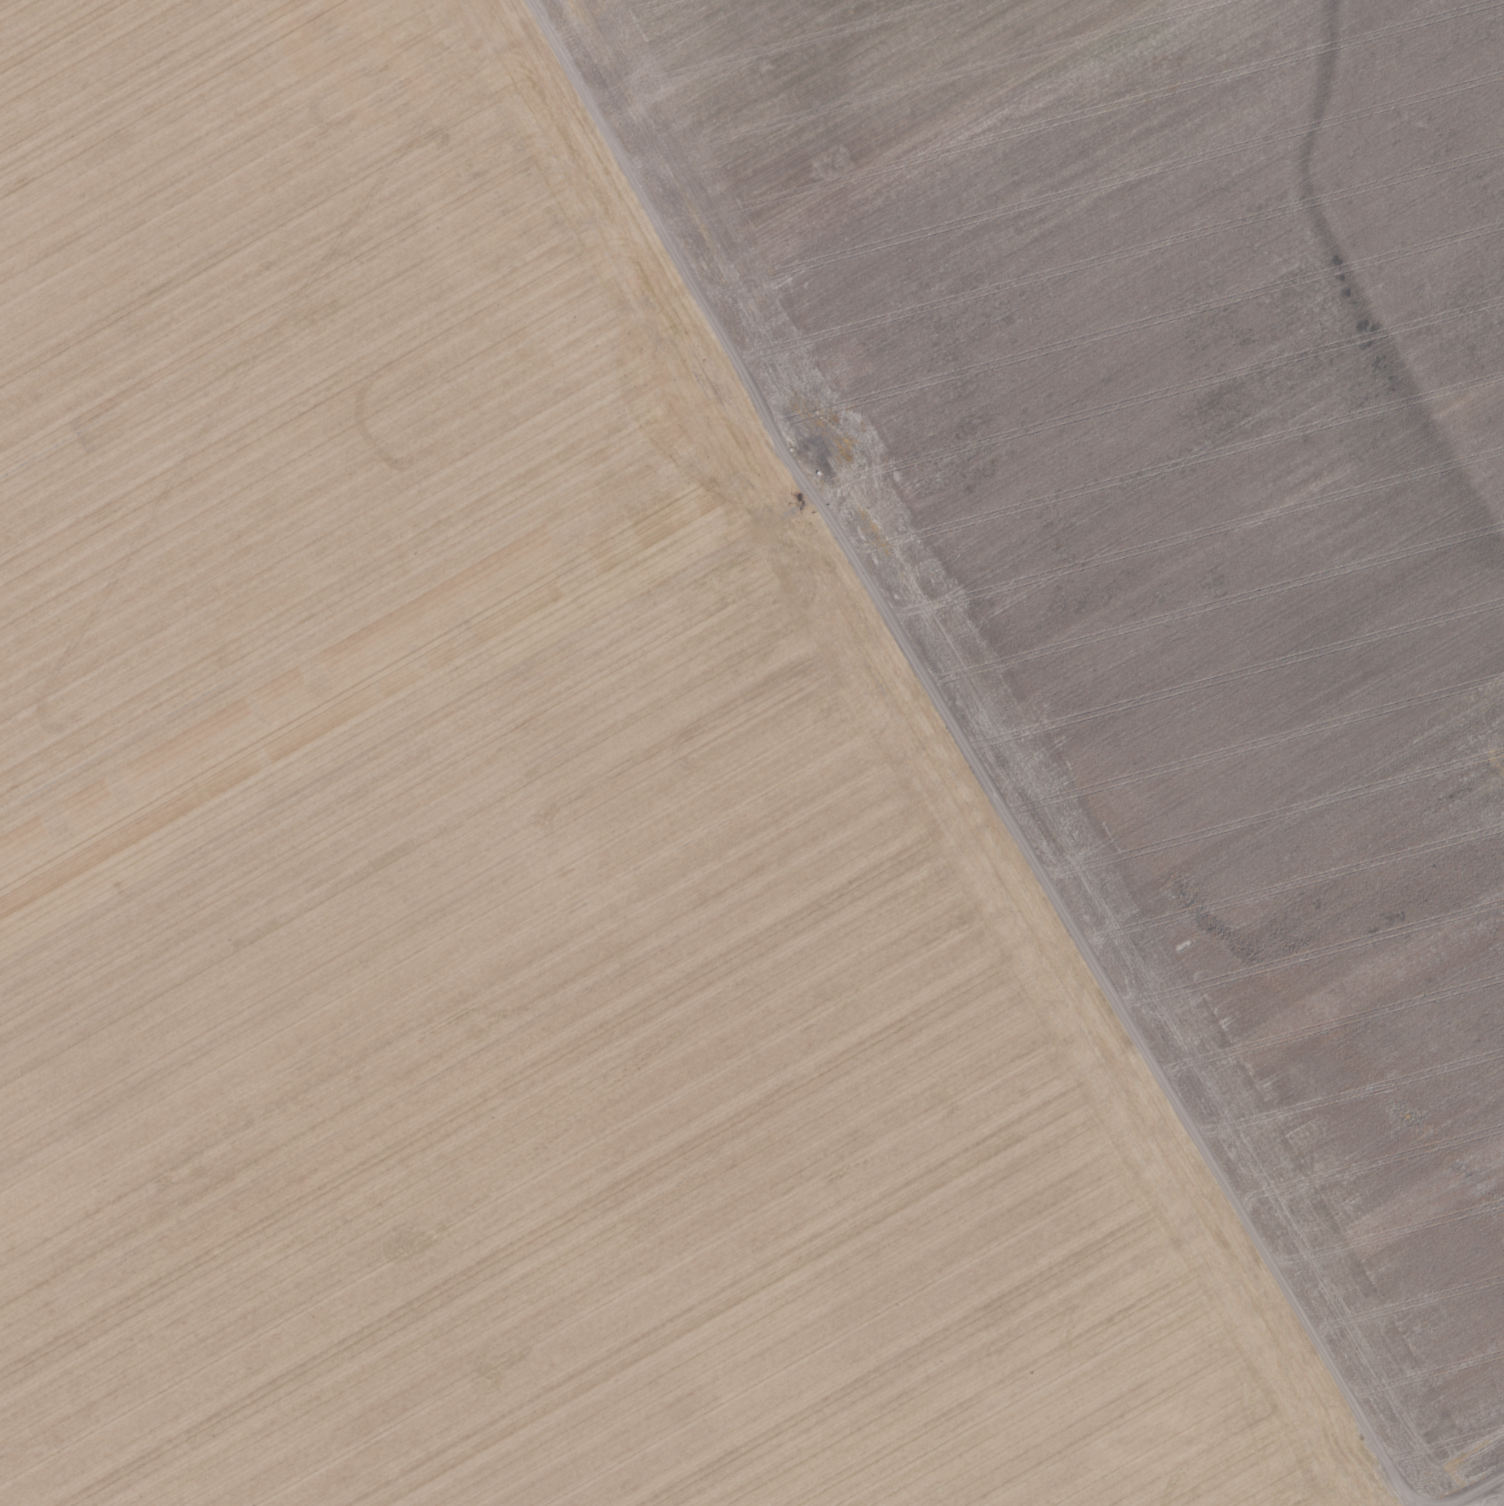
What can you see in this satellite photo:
road: (973, 754)
road: (1468, 1488)

